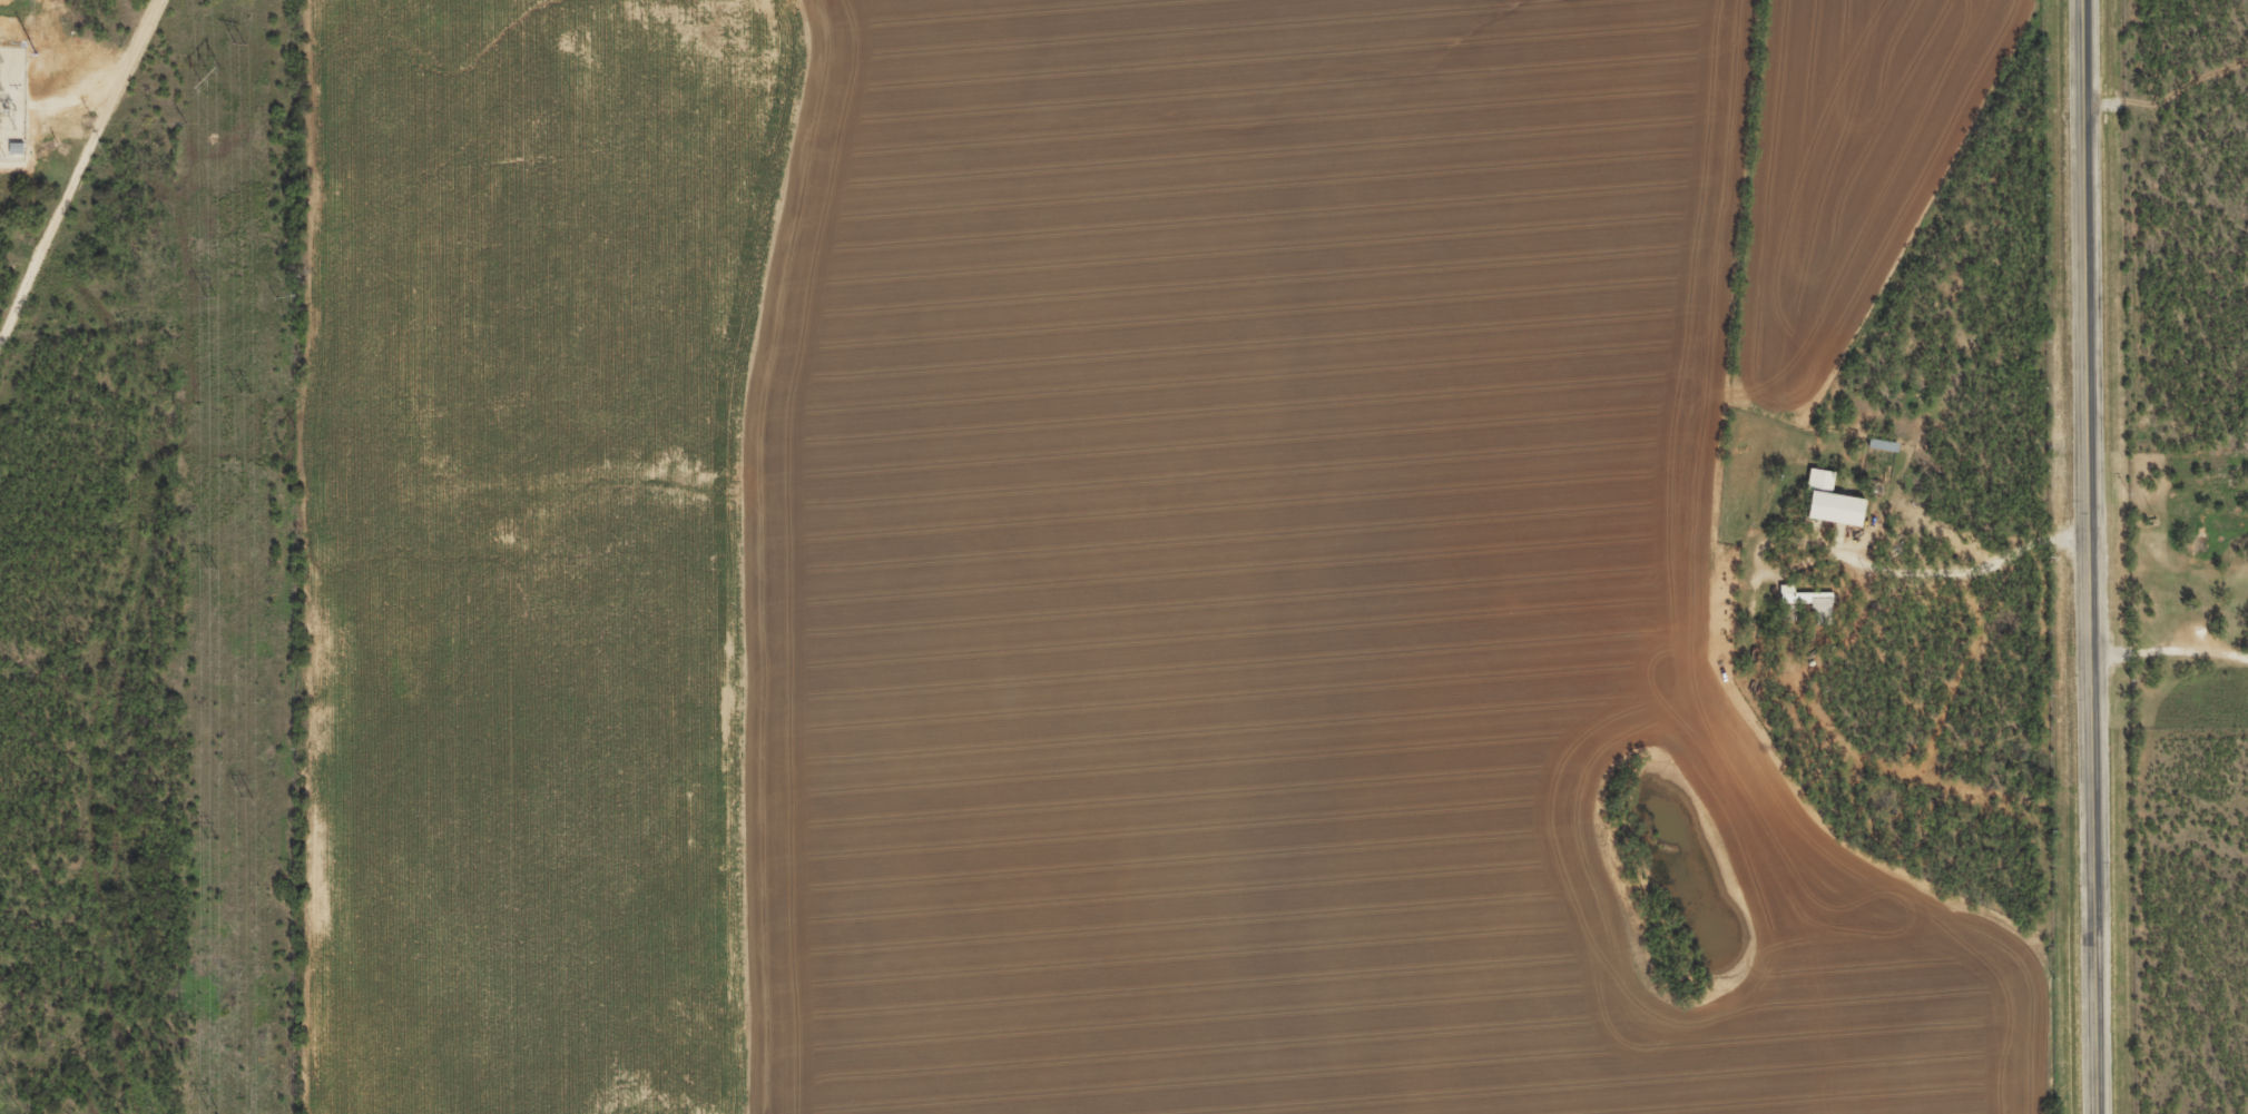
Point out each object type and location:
power tower: (238, 43)
power tower: (33, 57)
power tower: (208, 76)
power substation: (12, 101)
power tower: (209, 299)
power tower: (244, 393)
building: (1832, 501)
road: (2090, 556)
power tower: (209, 569)
building: (1822, 613)
road: (2169, 651)
power tower: (247, 798)
power tower: (212, 839)
power tower: (209, 1110)

